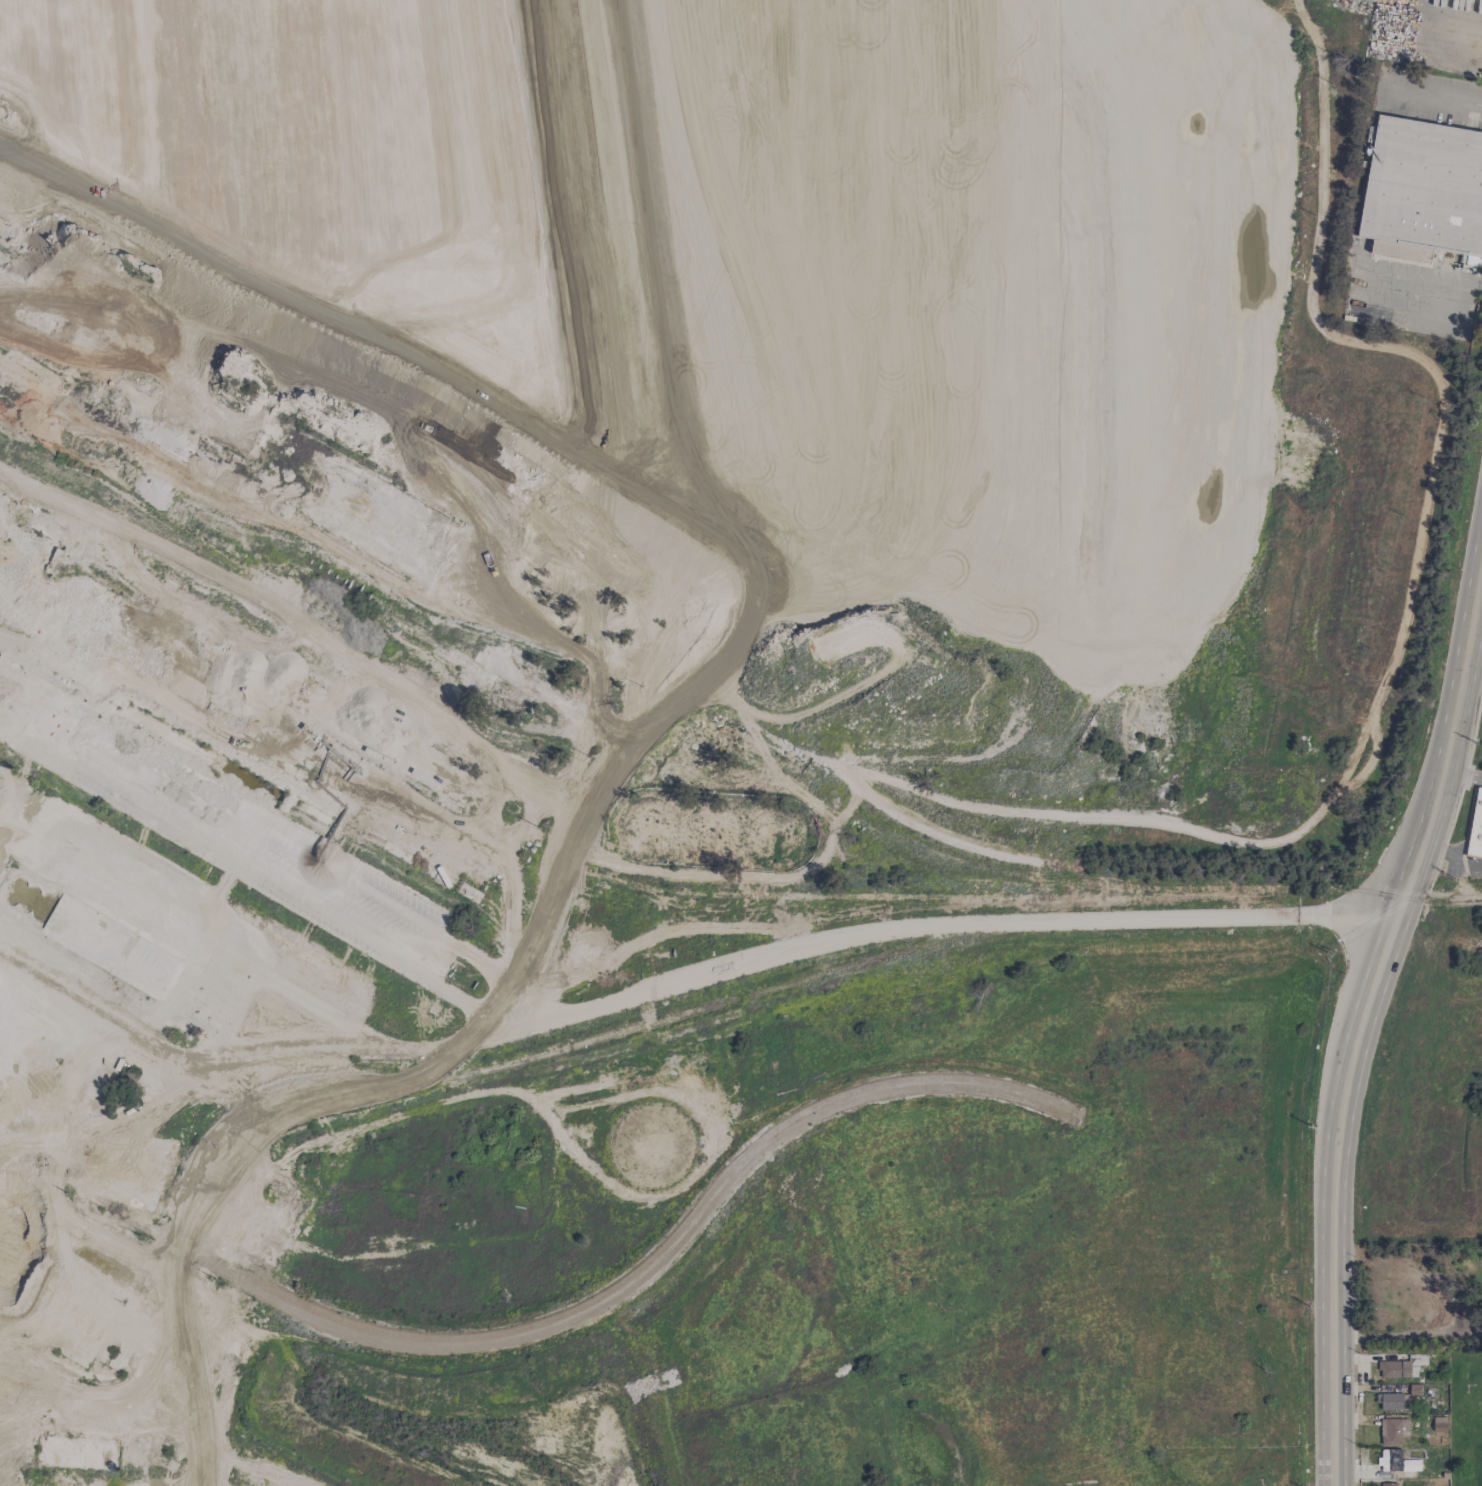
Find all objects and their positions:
road: (1435, 18)
road: (1417, 94)
road: (1097, 131)
building: (1423, 191)
road: (1354, 252)
building: (33, 696)
quarry: (697, 720)
road: (574, 763)
building: (120, 764)
road: (1462, 779)
road: (172, 797)
road: (1435, 804)
building: (1476, 827)
road: (1444, 890)
railway: (1442, 902)
railway: (97, 974)
road: (682, 979)
railway: (90, 982)
road: (512, 1015)
railway: (83, 1033)
railway: (628, 1033)
road: (1332, 1261)
railway: (650, 1273)
railway: (561, 1315)
road: (1406, 1333)
building: (1402, 1367)
building: (1399, 1399)
building: (1439, 1424)
building: (1393, 1432)
building: (1396, 1462)
road: (250, 1466)
building: (1388, 1485)

